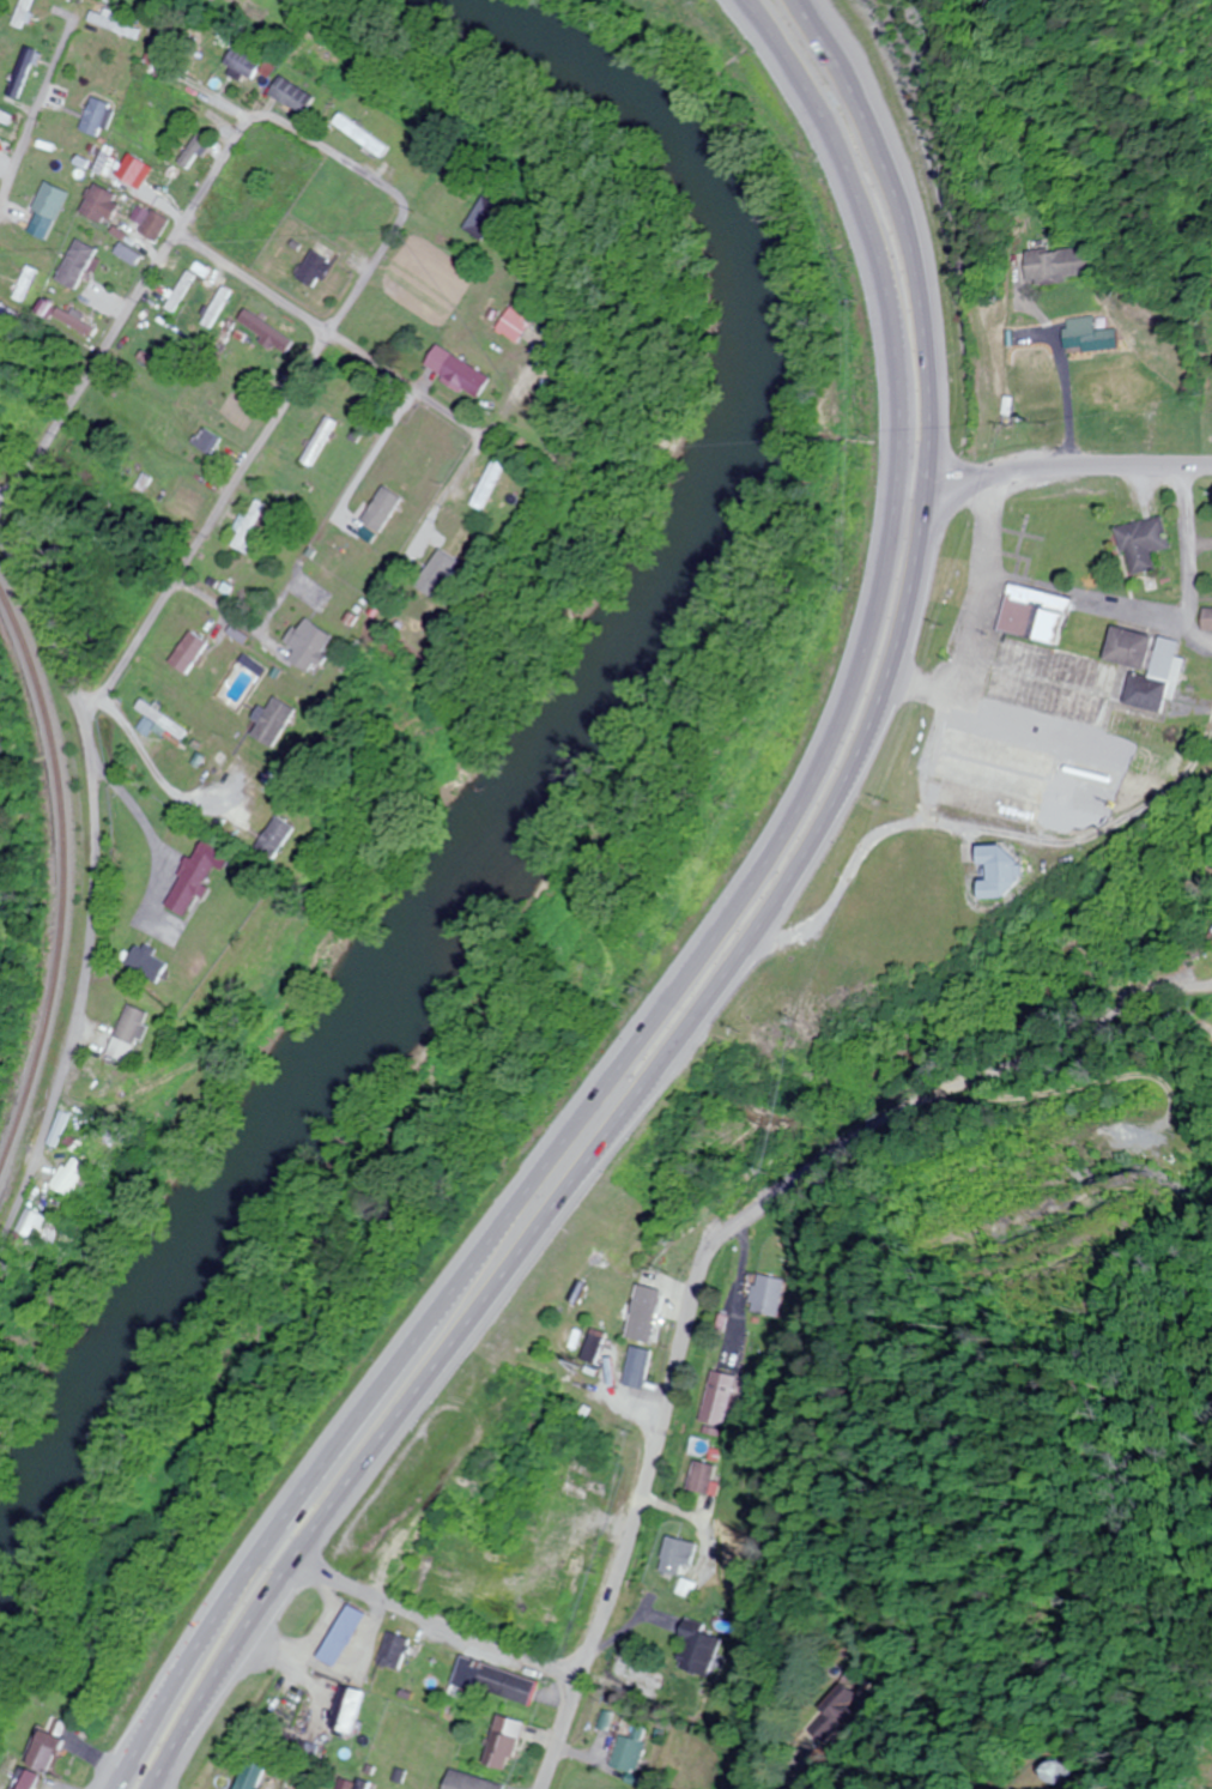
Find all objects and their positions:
building: (28, 13)
building: (164, 50)
building: (246, 62)
building: (26, 73)
building: (296, 95)
road: (46, 99)
building: (150, 111)
building: (99, 116)
building: (6, 117)
building: (365, 135)
building: (199, 150)
building: (110, 162)
building: (159, 177)
road: (401, 200)
building: (53, 201)
building: (102, 205)
building: (304, 217)
building: (487, 217)
building: (153, 223)
building: (1054, 264)
building: (77, 265)
building: (317, 268)
building: (183, 291)
building: (519, 322)
building: (269, 331)
road: (337, 336)
building: (1085, 336)
building: (460, 373)
building: (1110, 391)
road: (1061, 399)
building: (207, 441)
building: (321, 442)
road: (1052, 471)
building: (490, 489)
building: (249, 525)
building: (1141, 544)
building: (456, 550)
building: (371, 570)
road: (978, 610)
building: (1207, 619)
building: (310, 645)
building: (187, 652)
building: (1079, 666)
building: (158, 720)
building: (274, 723)
building: (1147, 743)
river: (533, 758)
building: (998, 766)
building: (1063, 782)
building: (274, 838)
railway: (60, 871)
building: (1000, 872)
building: (198, 875)
road: (89, 887)
road: (709, 947)
road: (752, 951)
building: (145, 965)
building: (129, 1026)
building: (85, 1064)
building: (66, 1177)
building: (26, 1225)
road: (716, 1249)
building: (766, 1295)
building: (643, 1316)
building: (593, 1346)
building: (636, 1367)
building: (717, 1400)
building: (701, 1479)
building: (674, 1555)
road: (417, 1627)
building: (341, 1634)
building: (697, 1648)
building: (393, 1650)
building: (491, 1681)
building: (844, 1704)
building: (345, 1710)
building: (498, 1743)
building: (623, 1754)
building: (46, 1759)
building: (1060, 1772)
building: (252, 1776)
building: (465, 1782)
road: (133, 1785)

